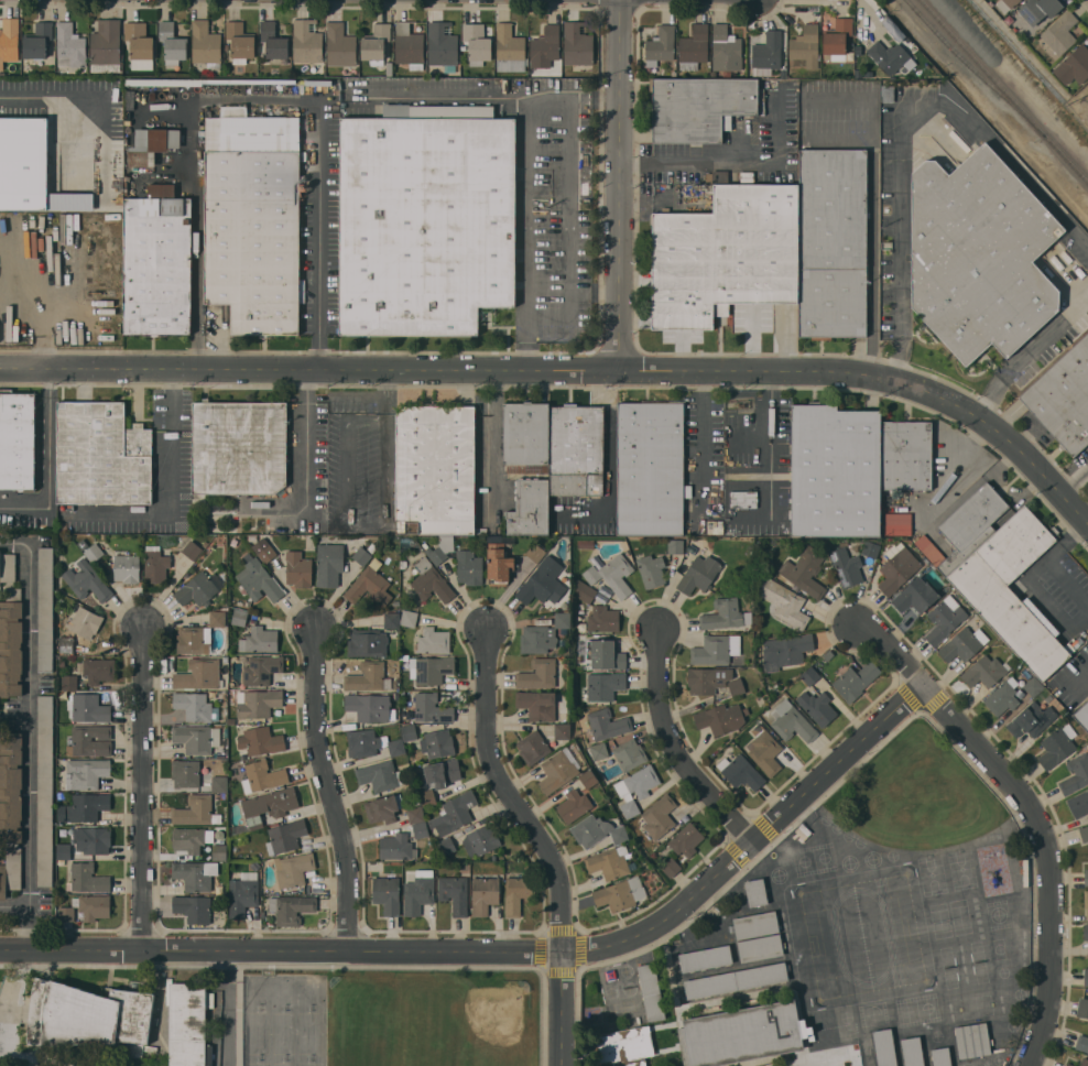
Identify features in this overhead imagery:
building: (1005, 4)
building: (1038, 9)
road: (871, 18)
building: (1059, 32)
building: (837, 37)
building: (9, 40)
building: (39, 40)
building: (139, 40)
building: (307, 40)
building: (173, 41)
building: (240, 41)
building: (274, 41)
building: (206, 43)
building: (376, 43)
building: (477, 43)
building: (577, 43)
building: (340, 44)
building: (660, 44)
building: (70, 45)
building: (409, 45)
building: (443, 45)
building: (106, 46)
building: (694, 46)
building: (544, 47)
building: (805, 47)
building: (509, 48)
building: (726, 48)
building: (766, 53)
building: (889, 55)
building: (1074, 65)
building: (390, 67)
railway: (973, 67)
building: (210, 80)
railway: (1005, 89)
building: (888, 91)
road: (47, 95)
road: (439, 96)
road: (577, 100)
building: (698, 107)
road: (901, 122)
building: (151, 144)
building: (303, 154)
building: (23, 162)
road: (732, 163)
building: (305, 185)
road: (620, 185)
building: (425, 218)
building: (252, 219)
road: (569, 231)
road: (532, 233)
road: (318, 237)
road: (197, 238)
petroleum well: (88, 242)
building: (833, 242)
building: (726, 253)
building: (979, 254)
road: (871, 258)
building: (157, 262)
petroleum well: (98, 289)
road: (595, 291)
road: (1030, 355)
road: (456, 370)
road: (385, 383)
road: (358, 396)
building: (1063, 398)
road: (385, 409)
road: (46, 436)
building: (525, 436)
road: (174, 438)
road: (1009, 438)
building: (17, 439)
road: (490, 442)
road: (700, 442)
road: (307, 444)
building: (238, 446)
road: (771, 446)
building: (576, 449)
building: (102, 454)
building: (906, 455)
building: (650, 467)
building: (435, 469)
building: (835, 470)
road: (956, 470)
road: (1071, 475)
building: (742, 499)
road: (23, 505)
building: (222, 505)
building: (530, 507)
building: (896, 523)
road: (347, 525)
building: (970, 525)
building: (217, 529)
building: (480, 530)
road: (14, 543)
building: (585, 543)
building: (675, 546)
building: (926, 546)
building: (372, 547)
building: (871, 548)
building: (192, 550)
building: (264, 550)
building: (94, 552)
building: (535, 552)
building: (361, 555)
building: (458, 559)
building: (155, 564)
building: (329, 564)
building: (403, 564)
building: (498, 564)
building: (846, 566)
building: (8, 567)
building: (127, 567)
building: (298, 568)
building: (651, 569)
building: (805, 569)
building: (897, 569)
building: (611, 574)
building: (698, 574)
building: (259, 579)
building: (87, 580)
building: (431, 581)
building: (543, 583)
building: (11, 584)
building: (369, 584)
building: (199, 588)
building: (1011, 589)
building: (584, 590)
building: (916, 596)
building: (785, 602)
building: (45, 608)
building: (723, 614)
building: (239, 617)
building: (216, 618)
building: (409, 618)
building: (563, 619)
building: (602, 619)
building: (945, 619)
building: (392, 620)
building: (85, 622)
building: (193, 639)
building: (537, 639)
building: (259, 640)
building: (432, 640)
building: (367, 642)
building: (562, 642)
building: (11, 643)
building: (65, 643)
building: (962, 644)
building: (716, 649)
building: (785, 651)
building: (605, 653)
building: (828, 655)
building: (62, 663)
building: (261, 668)
building: (99, 670)
building: (432, 670)
building: (984, 671)
building: (537, 673)
building: (198, 674)
building: (1027, 674)
building: (368, 676)
building: (810, 676)
building: (707, 678)
road: (1080, 678)
building: (856, 679)
building: (69, 682)
building: (1033, 685)
building: (601, 686)
building: (736, 686)
building: (213, 693)
building: (395, 696)
building: (1002, 696)
building: (258, 703)
building: (537, 704)
building: (195, 706)
building: (369, 706)
building: (817, 706)
building: (88, 707)
building: (432, 707)
building: (1082, 715)
building: (721, 718)
building: (1032, 719)
building: (792, 721)
building: (606, 725)
building: (562, 730)
building: (409, 732)
building: (196, 738)
road: (28, 739)
building: (89, 739)
building: (260, 740)
building: (437, 742)
building: (371, 743)
building: (1057, 746)
building: (533, 747)
road: (675, 749)
building: (599, 750)
building: (765, 751)
building: (629, 753)
building: (559, 770)
building: (741, 771)
building: (86, 772)
building: (185, 772)
building: (440, 772)
building: (1075, 774)
building: (262, 775)
building: (379, 775)
building: (589, 779)
building: (219, 783)
building: (635, 788)
building: (44, 790)
road: (142, 792)
road: (330, 792)
road: (510, 794)
building: (427, 797)
building: (1079, 803)
building: (269, 805)
building: (574, 805)
building: (86, 806)
building: (383, 807)
building: (10, 808)
building: (196, 811)
road: (1033, 812)
building: (454, 813)
building: (415, 814)
building: (659, 816)
building: (421, 829)
building: (236, 830)
building: (597, 830)
building: (1084, 833)
building: (285, 836)
building: (189, 838)
building: (93, 839)
building: (686, 839)
building: (480, 840)
building: (446, 845)
building: (396, 846)
building: (63, 850)
building: (219, 851)
building: (61, 861)
building: (609, 861)
building: (671, 867)
building: (293, 869)
park: (961, 869)
building: (195, 873)
park: (932, 874)
building: (1086, 877)
building: (86, 878)
building: (418, 891)
building: (755, 892)
building: (242, 893)
building: (387, 893)
building: (454, 893)
building: (518, 893)
building: (620, 893)
building: (483, 894)
building: (1086, 901)
building: (87, 907)
building: (193, 907)
building: (291, 907)
building: (755, 924)
road: (28, 929)
building: (1086, 931)
track: (862, 936)
building: (760, 947)
road: (509, 953)
building: (705, 958)
building: (610, 973)
building: (1086, 976)
building: (736, 980)
building: (651, 991)
road: (161, 997)
building: (1082, 1007)
road: (562, 1009)
road: (226, 1010)
building: (88, 1016)
building: (187, 1023)
building: (740, 1033)
building: (972, 1040)
building: (1081, 1042)
building: (624, 1046)
building: (884, 1047)
building: (912, 1051)
building: (940, 1056)
park: (307, 1062)
building: (1084, 1062)
park: (258, 1063)
park: (283, 1063)
building: (1069, 1064)

